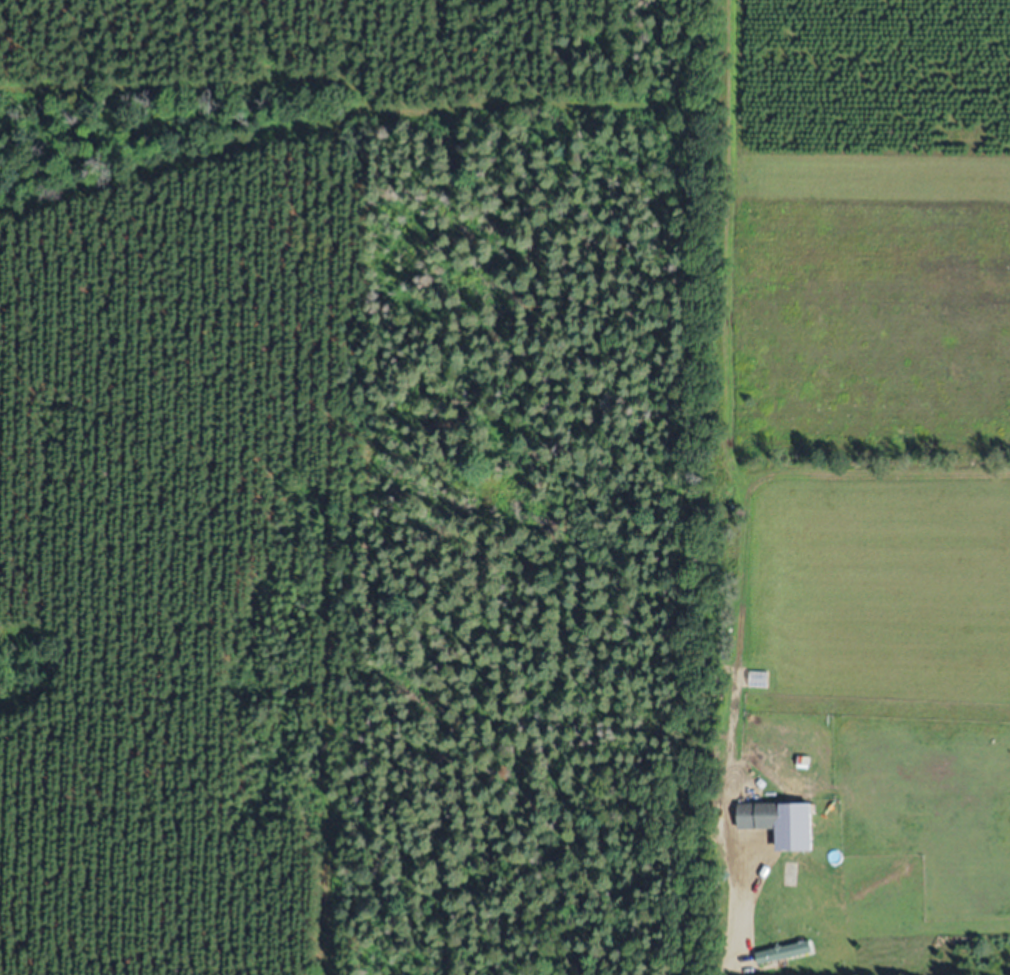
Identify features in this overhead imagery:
building: (762, 816)
building: (785, 953)

